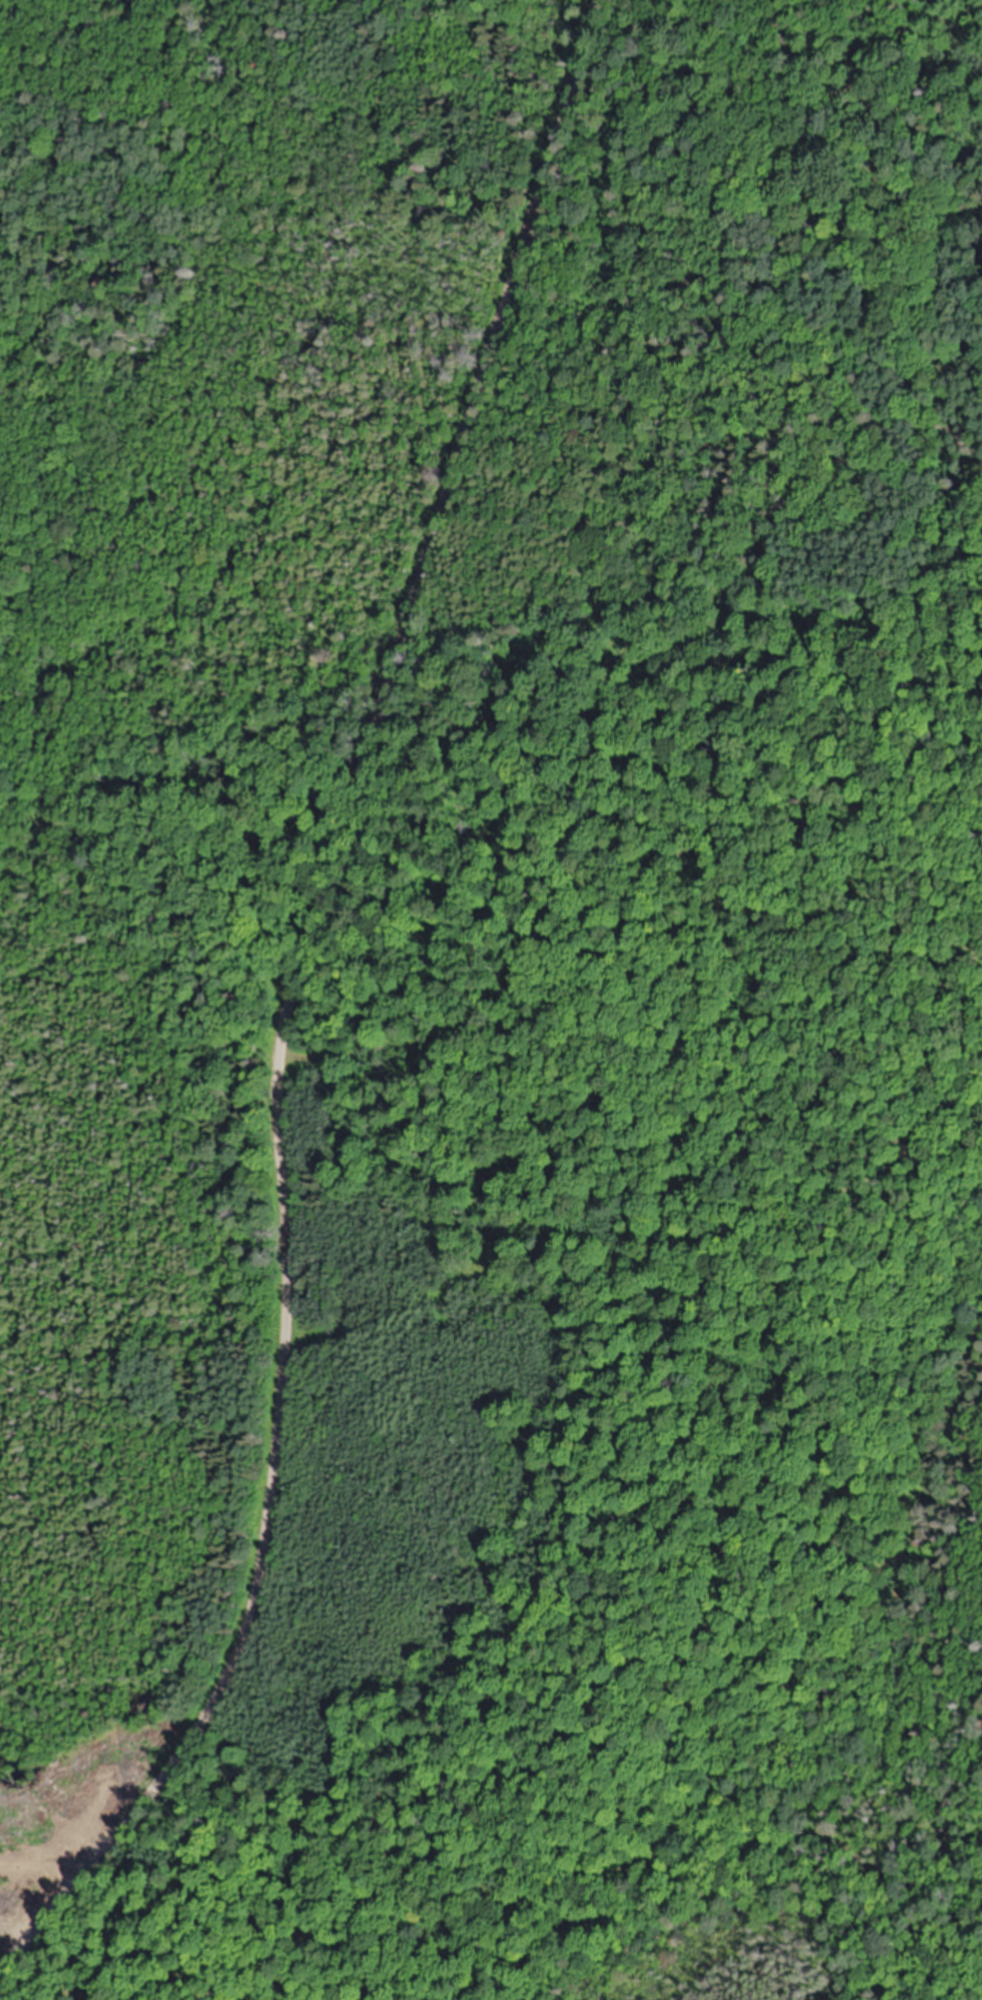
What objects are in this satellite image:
road: (287, 1003)

